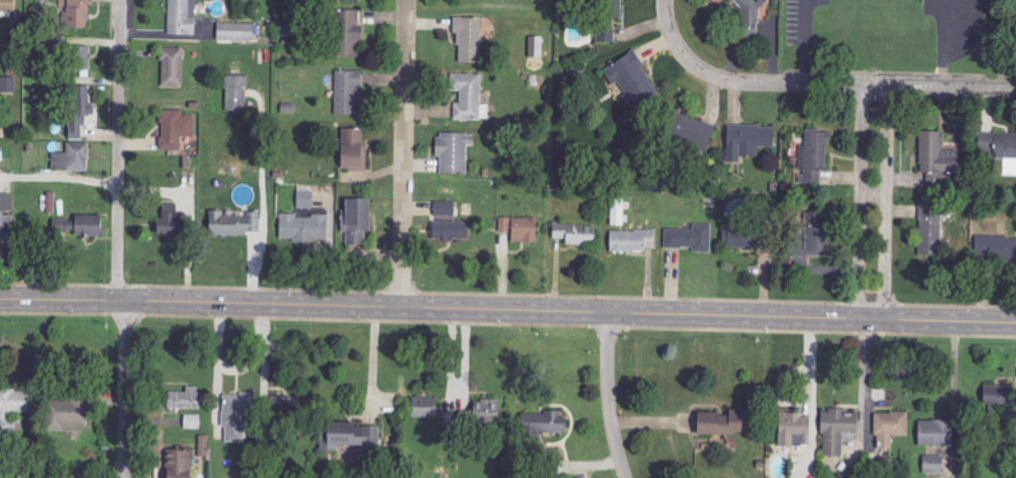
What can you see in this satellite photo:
building: (360, 0)
building: (7, 5)
building: (78, 13)
building: (750, 15)
building: (181, 17)
building: (609, 18)
building: (349, 31)
building: (236, 32)
road: (965, 34)
building: (468, 38)
road: (803, 41)
road: (941, 43)
building: (536, 46)
road: (677, 47)
building: (80, 57)
building: (172, 67)
building: (632, 79)
building: (7, 85)
road: (865, 85)
building: (347, 92)
building: (237, 94)
building: (469, 97)
building: (79, 108)
building: (175, 129)
building: (691, 131)
building: (748, 140)
building: (999, 147)
road: (118, 150)
building: (353, 150)
building: (454, 151)
road: (404, 154)
building: (72, 158)
building: (936, 158)
building: (811, 161)
road: (59, 178)
building: (305, 199)
road: (873, 203)
building: (444, 208)
building: (168, 219)
building: (356, 220)
building: (233, 223)
building: (6, 224)
building: (78, 226)
building: (303, 228)
building: (520, 228)
building: (450, 230)
building: (931, 230)
building: (575, 234)
building: (813, 234)
building: (741, 237)
building: (690, 238)
building: (632, 241)
building: (995, 248)
road: (508, 310)
road: (372, 360)
road: (263, 361)
road: (216, 362)
road: (241, 368)
road: (865, 374)
road: (859, 377)
road: (125, 389)
building: (997, 395)
road: (608, 396)
building: (184, 399)
road: (456, 402)
building: (283, 407)
building: (418, 407)
building: (12, 411)
building: (486, 412)
building: (67, 415)
building: (237, 415)
building: (192, 422)
building: (544, 423)
building: (721, 423)
building: (890, 429)
building: (794, 430)
building: (838, 430)
building: (937, 432)
building: (353, 436)
building: (204, 445)
building: (178, 464)
building: (933, 464)

